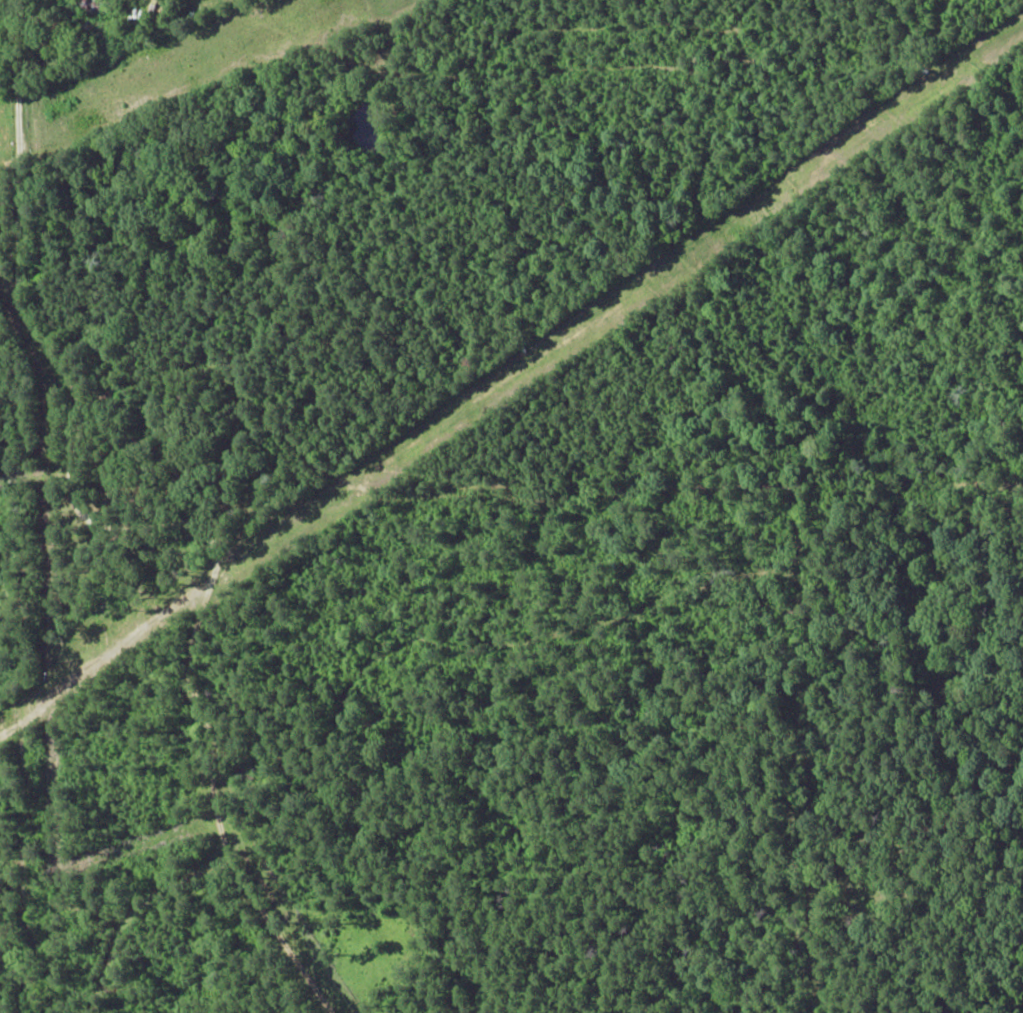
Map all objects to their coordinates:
road: (312, 80)
road: (47, 426)

